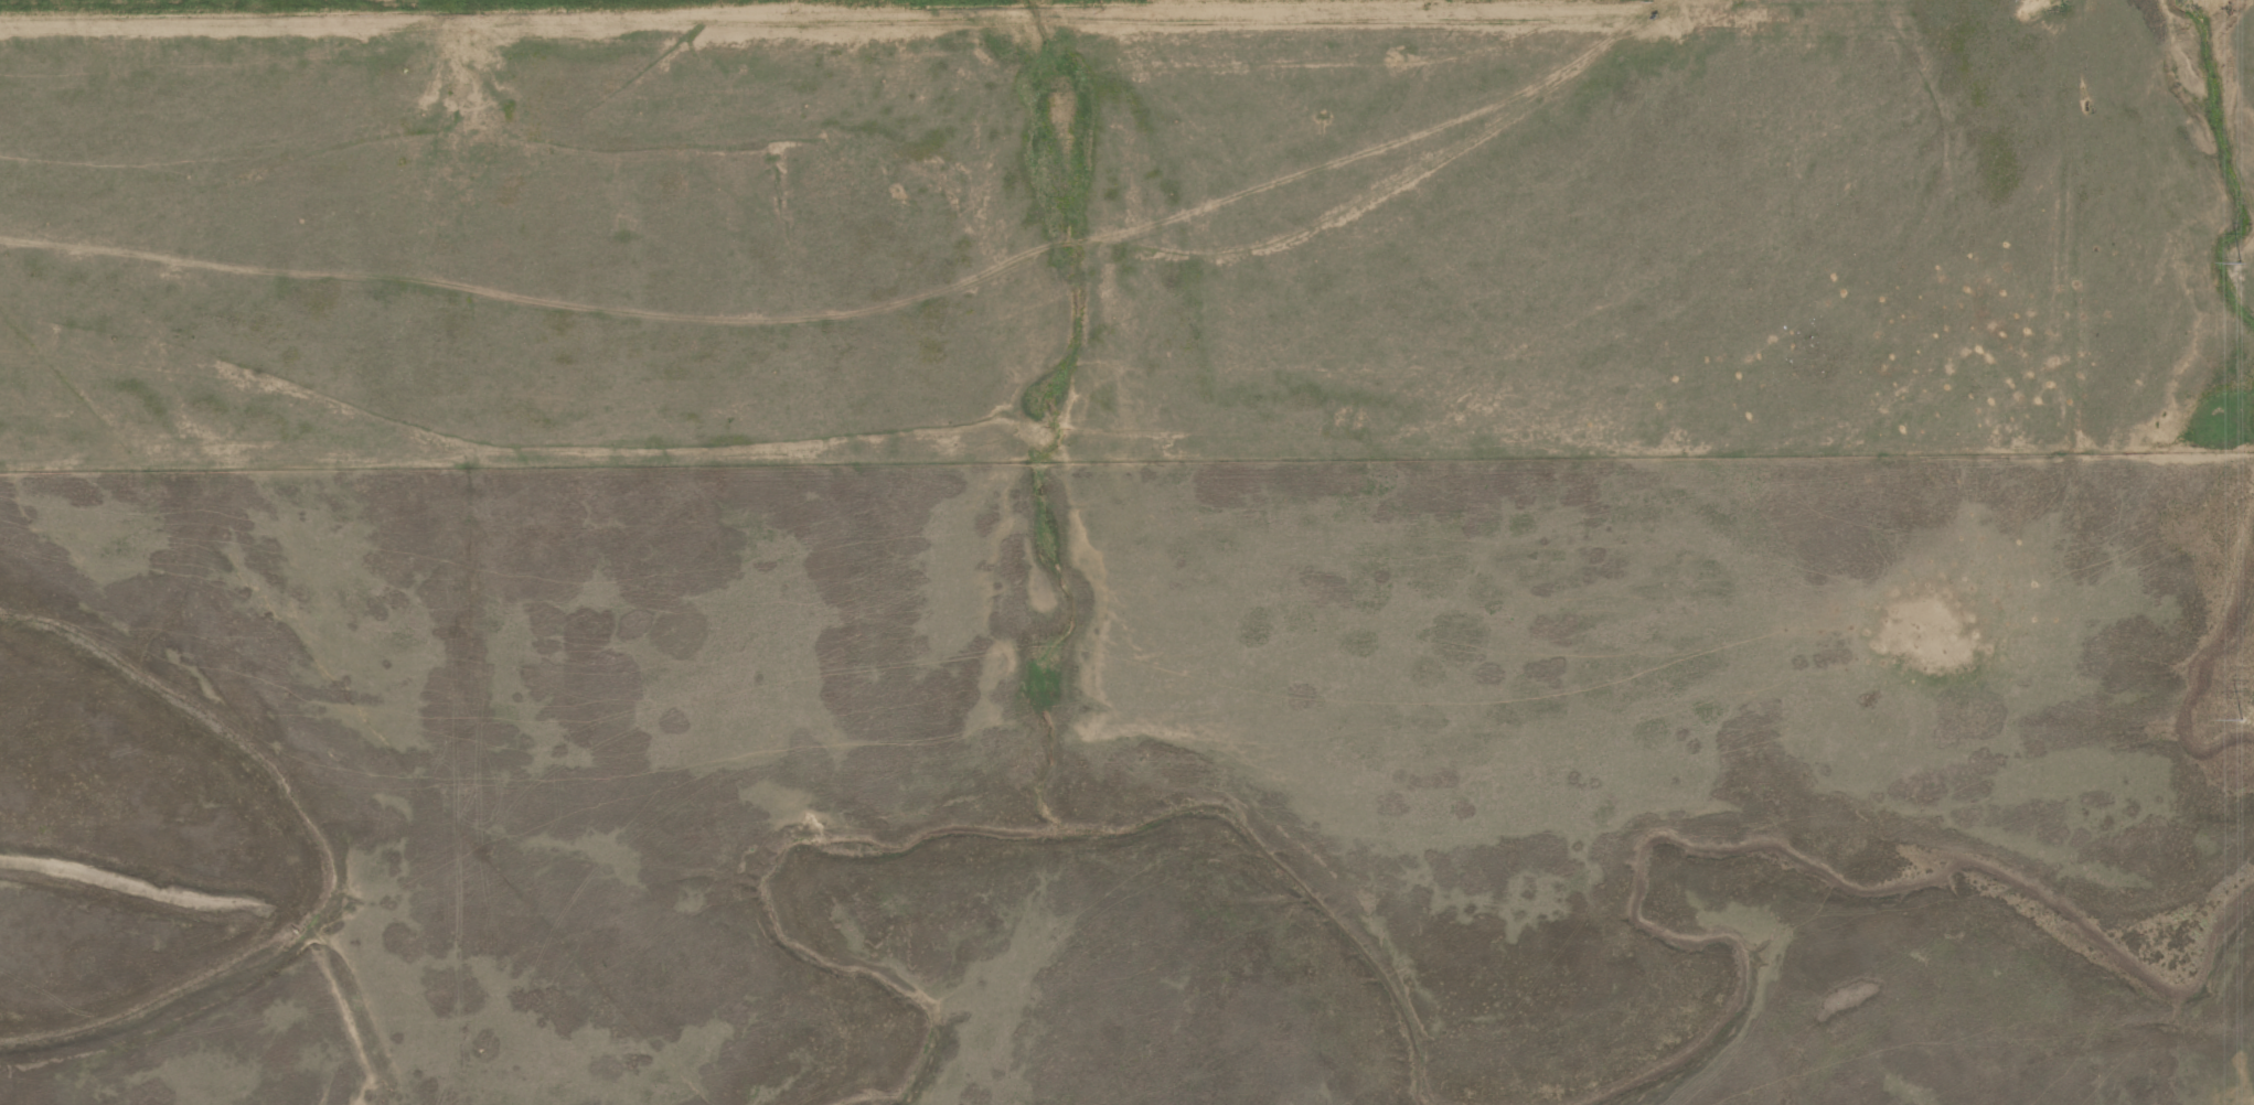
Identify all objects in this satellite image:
power tower: (2239, 261)
power tower: (2236, 719)

